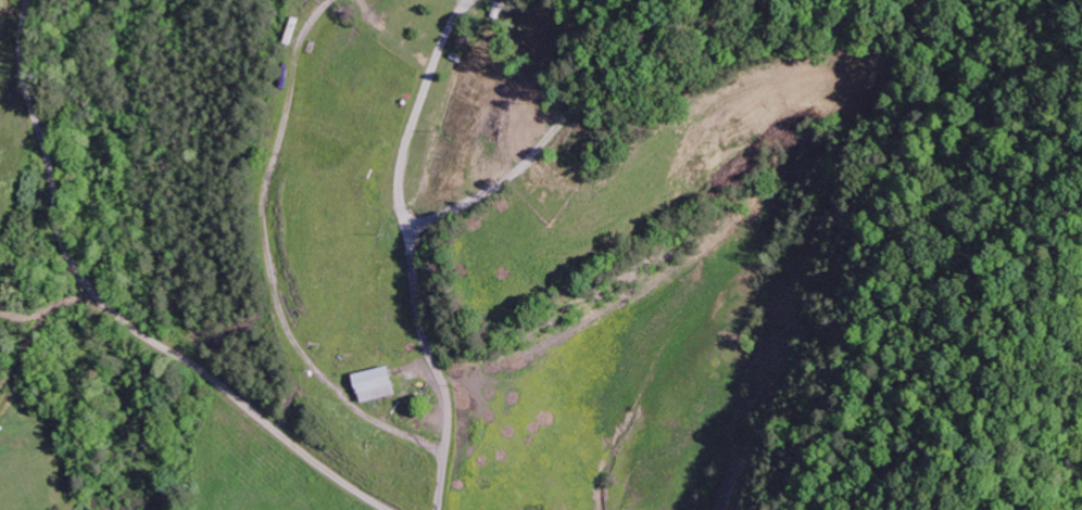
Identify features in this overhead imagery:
road: (543, 142)
road: (425, 345)
building: (381, 383)

